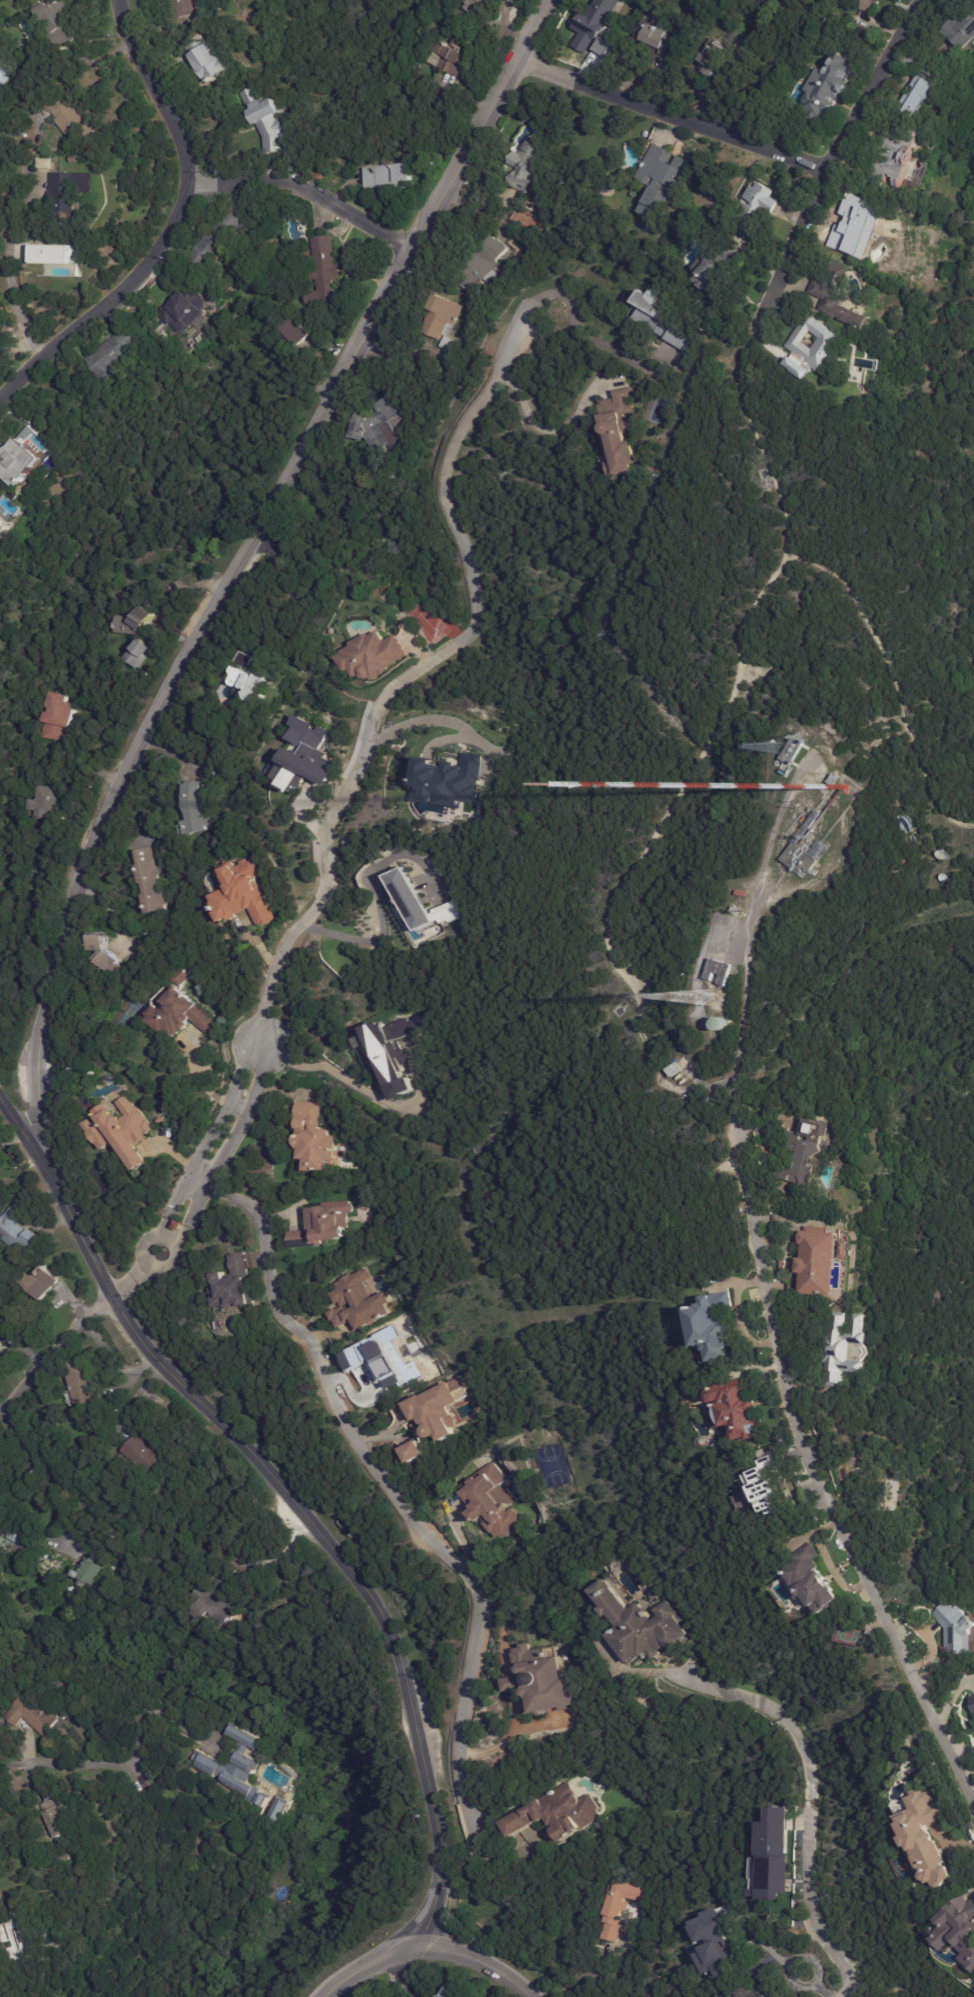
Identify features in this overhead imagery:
building: (513, 1)
building: (474, 2)
building: (868, 6)
building: (182, 8)
building: (62, 23)
building: (593, 25)
building: (962, 29)
building: (661, 40)
building: (599, 46)
building: (0, 47)
building: (205, 58)
building: (448, 58)
building: (711, 60)
building: (5, 68)
building: (934, 69)
building: (828, 87)
building: (921, 97)
road: (667, 116)
building: (74, 118)
building: (265, 120)
building: (903, 154)
building: (83, 160)
road: (823, 165)
building: (525, 166)
building: (388, 176)
building: (659, 180)
road: (304, 188)
building: (74, 190)
building: (760, 203)
building: (857, 225)
road: (170, 227)
building: (220, 238)
building: (53, 254)
building: (483, 266)
building: (713, 270)
road: (8, 271)
building: (324, 274)
building: (840, 297)
building: (185, 311)
building: (657, 317)
building: (442, 321)
road: (575, 329)
building: (294, 332)
building: (828, 345)
building: (7, 352)
building: (111, 354)
building: (857, 364)
building: (381, 427)
road: (551, 430)
building: (620, 433)
building: (20, 460)
building: (1, 498)
building: (1, 522)
road: (236, 561)
building: (410, 569)
road: (286, 587)
building: (134, 624)
building: (137, 656)
building: (370, 657)
road: (413, 671)
building: (249, 679)
building: (56, 719)
road: (449, 722)
road: (445, 739)
building: (793, 750)
building: (302, 756)
building: (834, 778)
building: (447, 780)
building: (46, 804)
building: (193, 809)
building: (801, 859)
building: (149, 882)
building: (242, 893)
building: (743, 894)
building: (418, 903)
building: (737, 910)
road: (376, 938)
building: (100, 943)
building: (110, 962)
building: (718, 972)
building: (178, 976)
building: (178, 1015)
building: (388, 1054)
building: (674, 1069)
road: (363, 1090)
road: (20, 1131)
building: (123, 1132)
building: (312, 1140)
building: (806, 1158)
road: (195, 1178)
building: (178, 1226)
building: (324, 1227)
building: (18, 1231)
building: (822, 1262)
building: (785, 1266)
building: (43, 1282)
building: (233, 1284)
building: (359, 1301)
building: (710, 1324)
building: (846, 1349)
road: (56, 1354)
building: (83, 1380)
road: (778, 1380)
building: (737, 1407)
building: (437, 1410)
building: (839, 1422)
building: (414, 1450)
road: (29, 1452)
building: (140, 1454)
building: (768, 1484)
building: (886, 1490)
road: (392, 1495)
building: (491, 1502)
road: (303, 1527)
building: (3, 1528)
building: (12, 1536)
building: (1, 1541)
building: (87, 1569)
building: (810, 1580)
building: (225, 1584)
building: (209, 1605)
building: (638, 1625)
building: (956, 1627)
road: (499, 1629)
building: (539, 1682)
road: (512, 1684)
building: (971, 1703)
building: (31, 1714)
road: (164, 1718)
road: (507, 1739)
road: (66, 1766)
building: (240, 1767)
road: (804, 1796)
building: (281, 1811)
building: (556, 1813)
building: (53, 1819)
building: (924, 1838)
building: (772, 1854)
building: (621, 1907)
building: (959, 1927)
building: (16, 1936)
road: (429, 1945)
building: (712, 1946)
road: (782, 1965)
road: (589, 1970)
road: (408, 1975)
building: (771, 1989)
building: (458, 1992)

